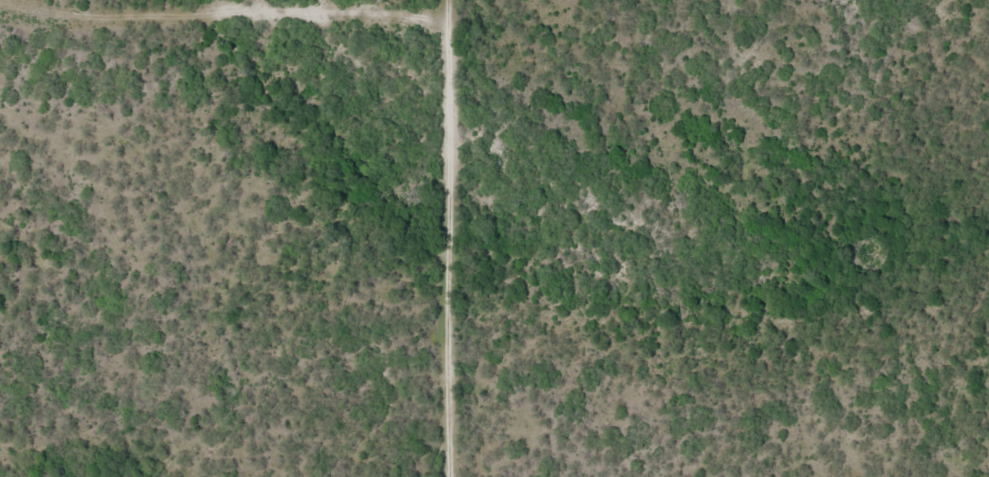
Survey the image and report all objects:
road: (441, 238)

